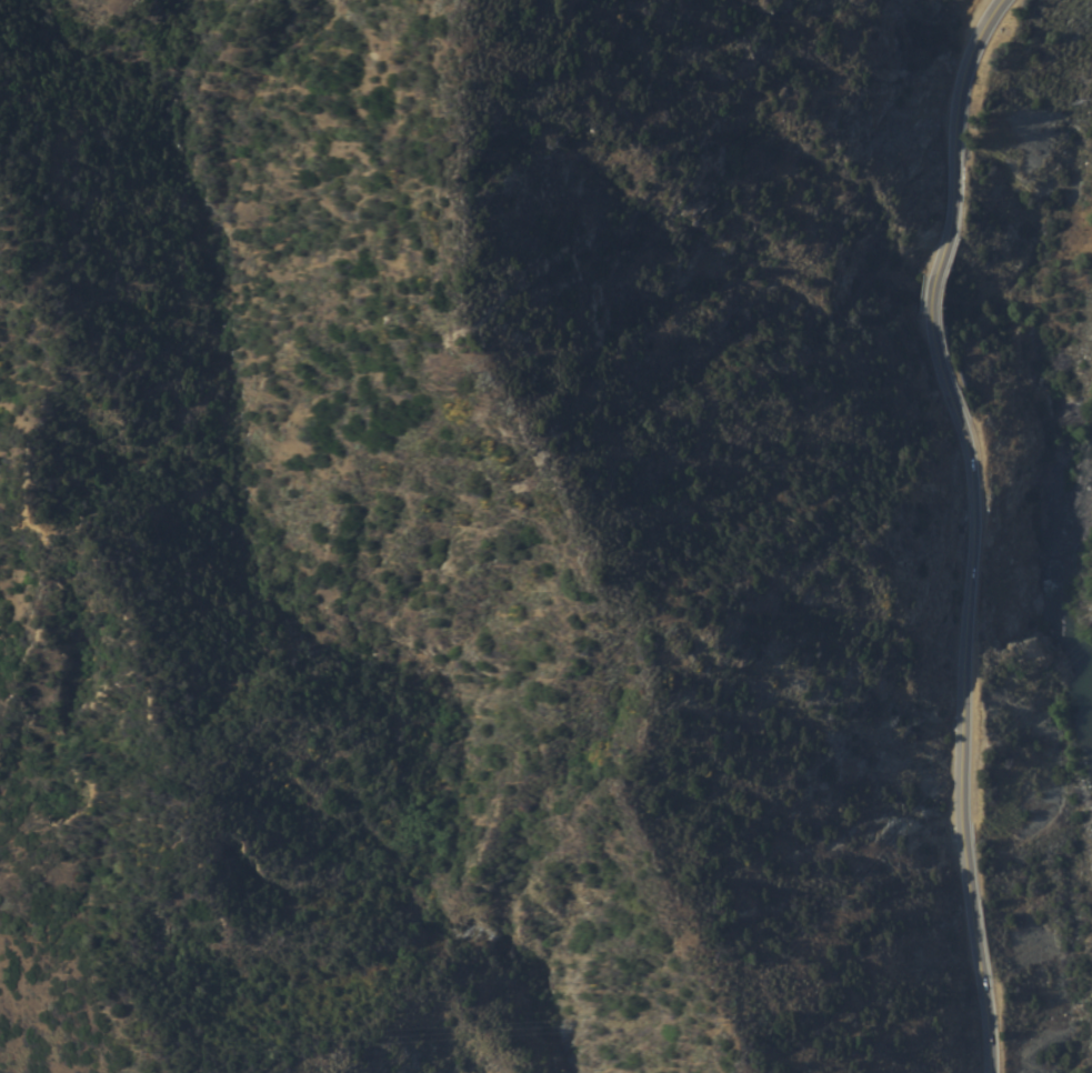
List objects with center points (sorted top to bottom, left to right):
road: (979, 527)
river: (1079, 558)

